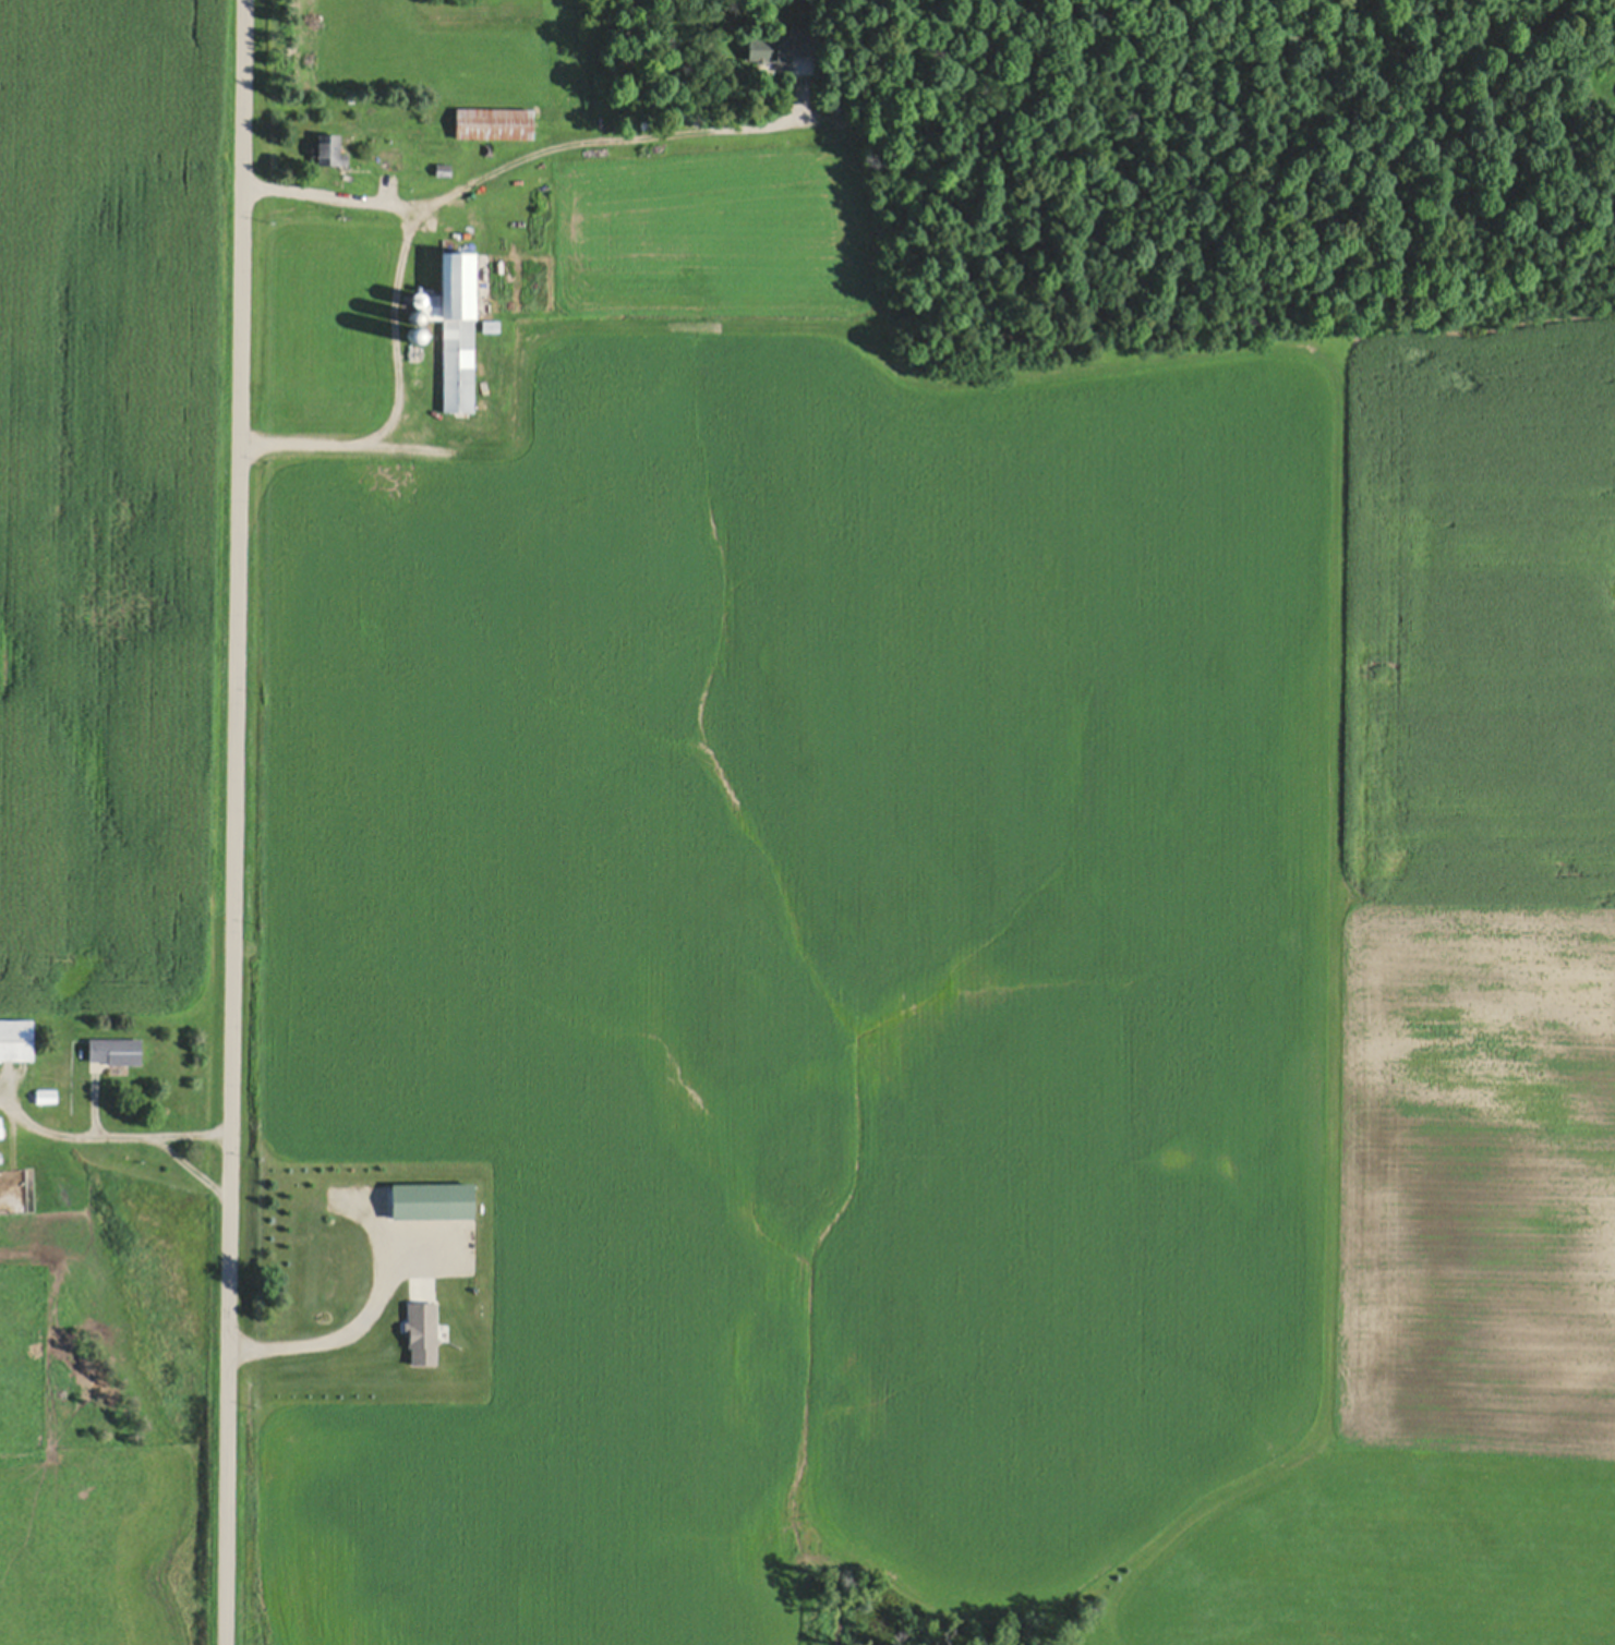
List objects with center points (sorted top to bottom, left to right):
building: (1608, 36)
building: (783, 43)
building: (495, 122)
building: (641, 122)
building: (328, 147)
building: (489, 147)
building: (389, 157)
building: (444, 168)
building: (415, 316)
building: (493, 325)
building: (454, 326)
building: (415, 347)
road: (233, 822)
building: (16, 1038)
building: (115, 1050)
building: (46, 1094)
building: (1, 1120)
building: (0, 1133)
building: (0, 1149)
building: (432, 1201)
building: (419, 1331)

